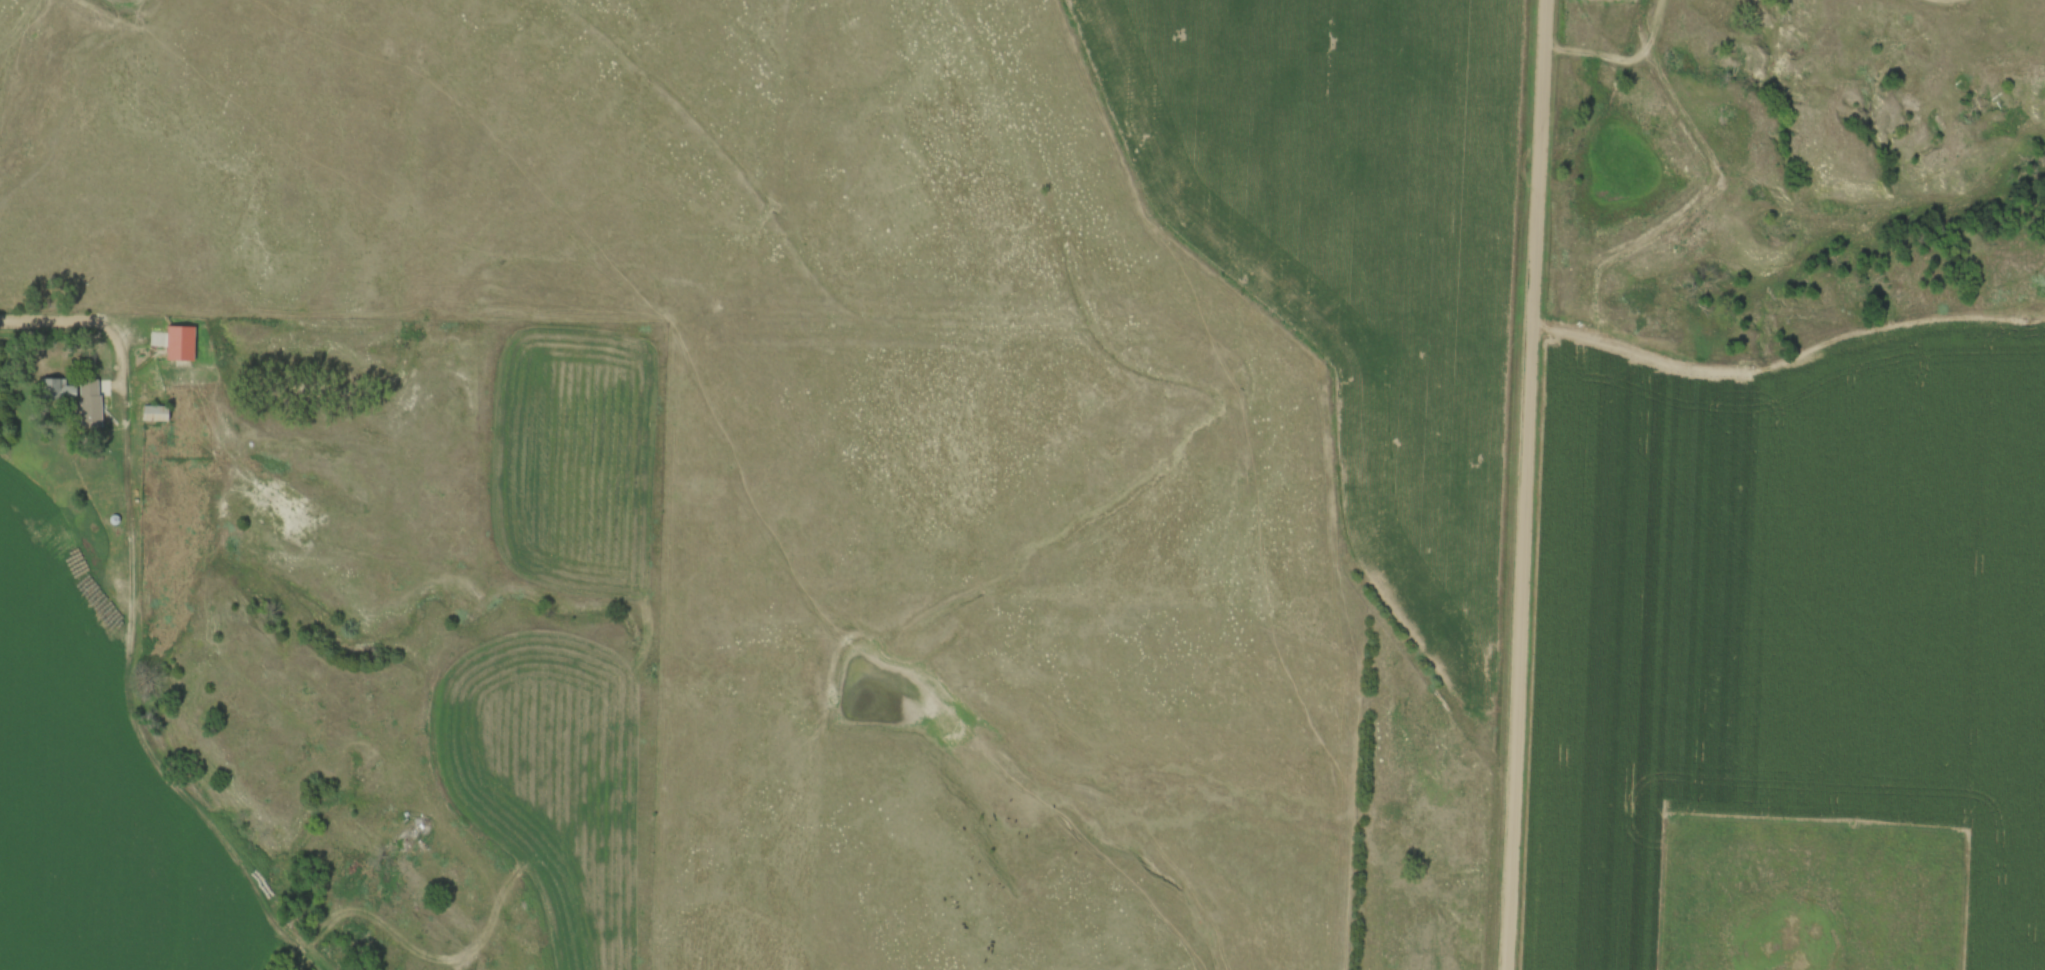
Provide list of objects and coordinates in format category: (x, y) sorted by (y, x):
crop: (1361, 249)
road: (88, 319)
building: (56, 391)
building: (88, 403)
building: (153, 414)
crop: (579, 458)
road: (1526, 484)
crop: (555, 778)
crop: (91, 781)

